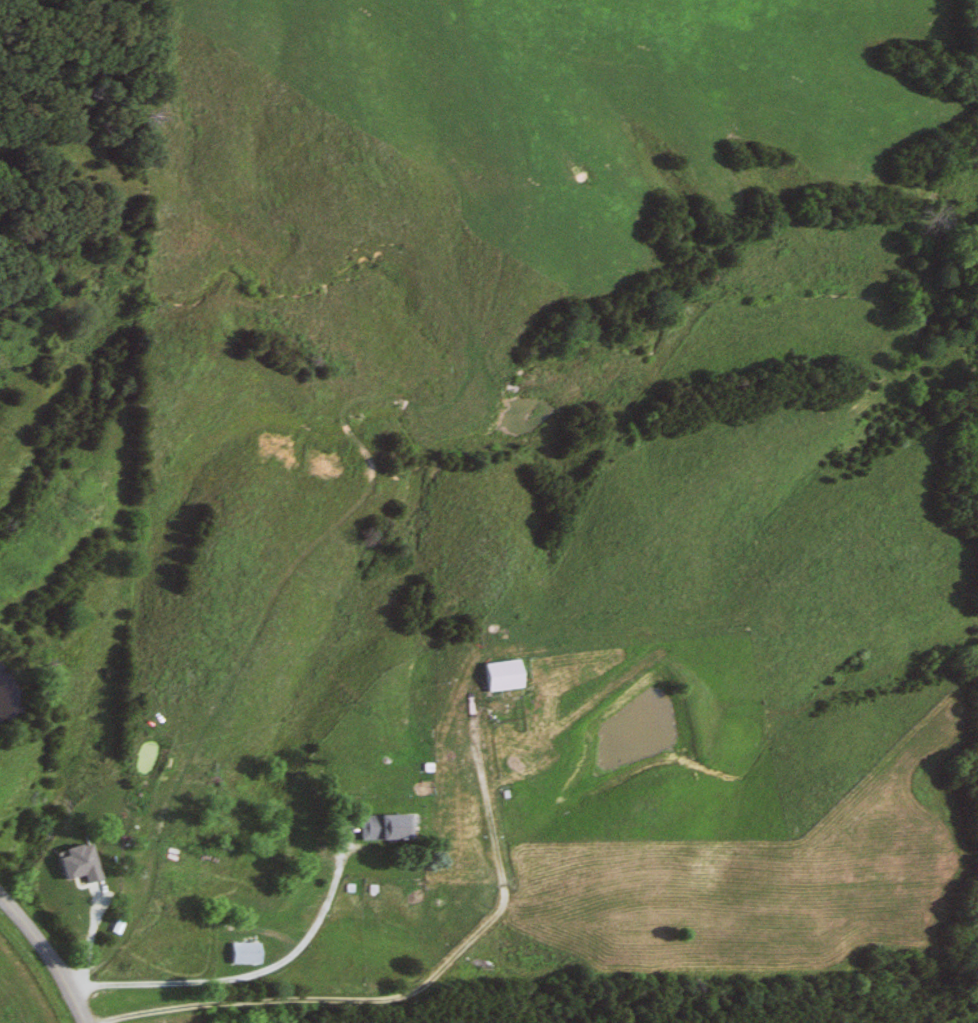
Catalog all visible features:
building: (496, 676)
building: (379, 827)
building: (238, 954)
road: (47, 956)
road: (258, 979)
road: (410, 991)

